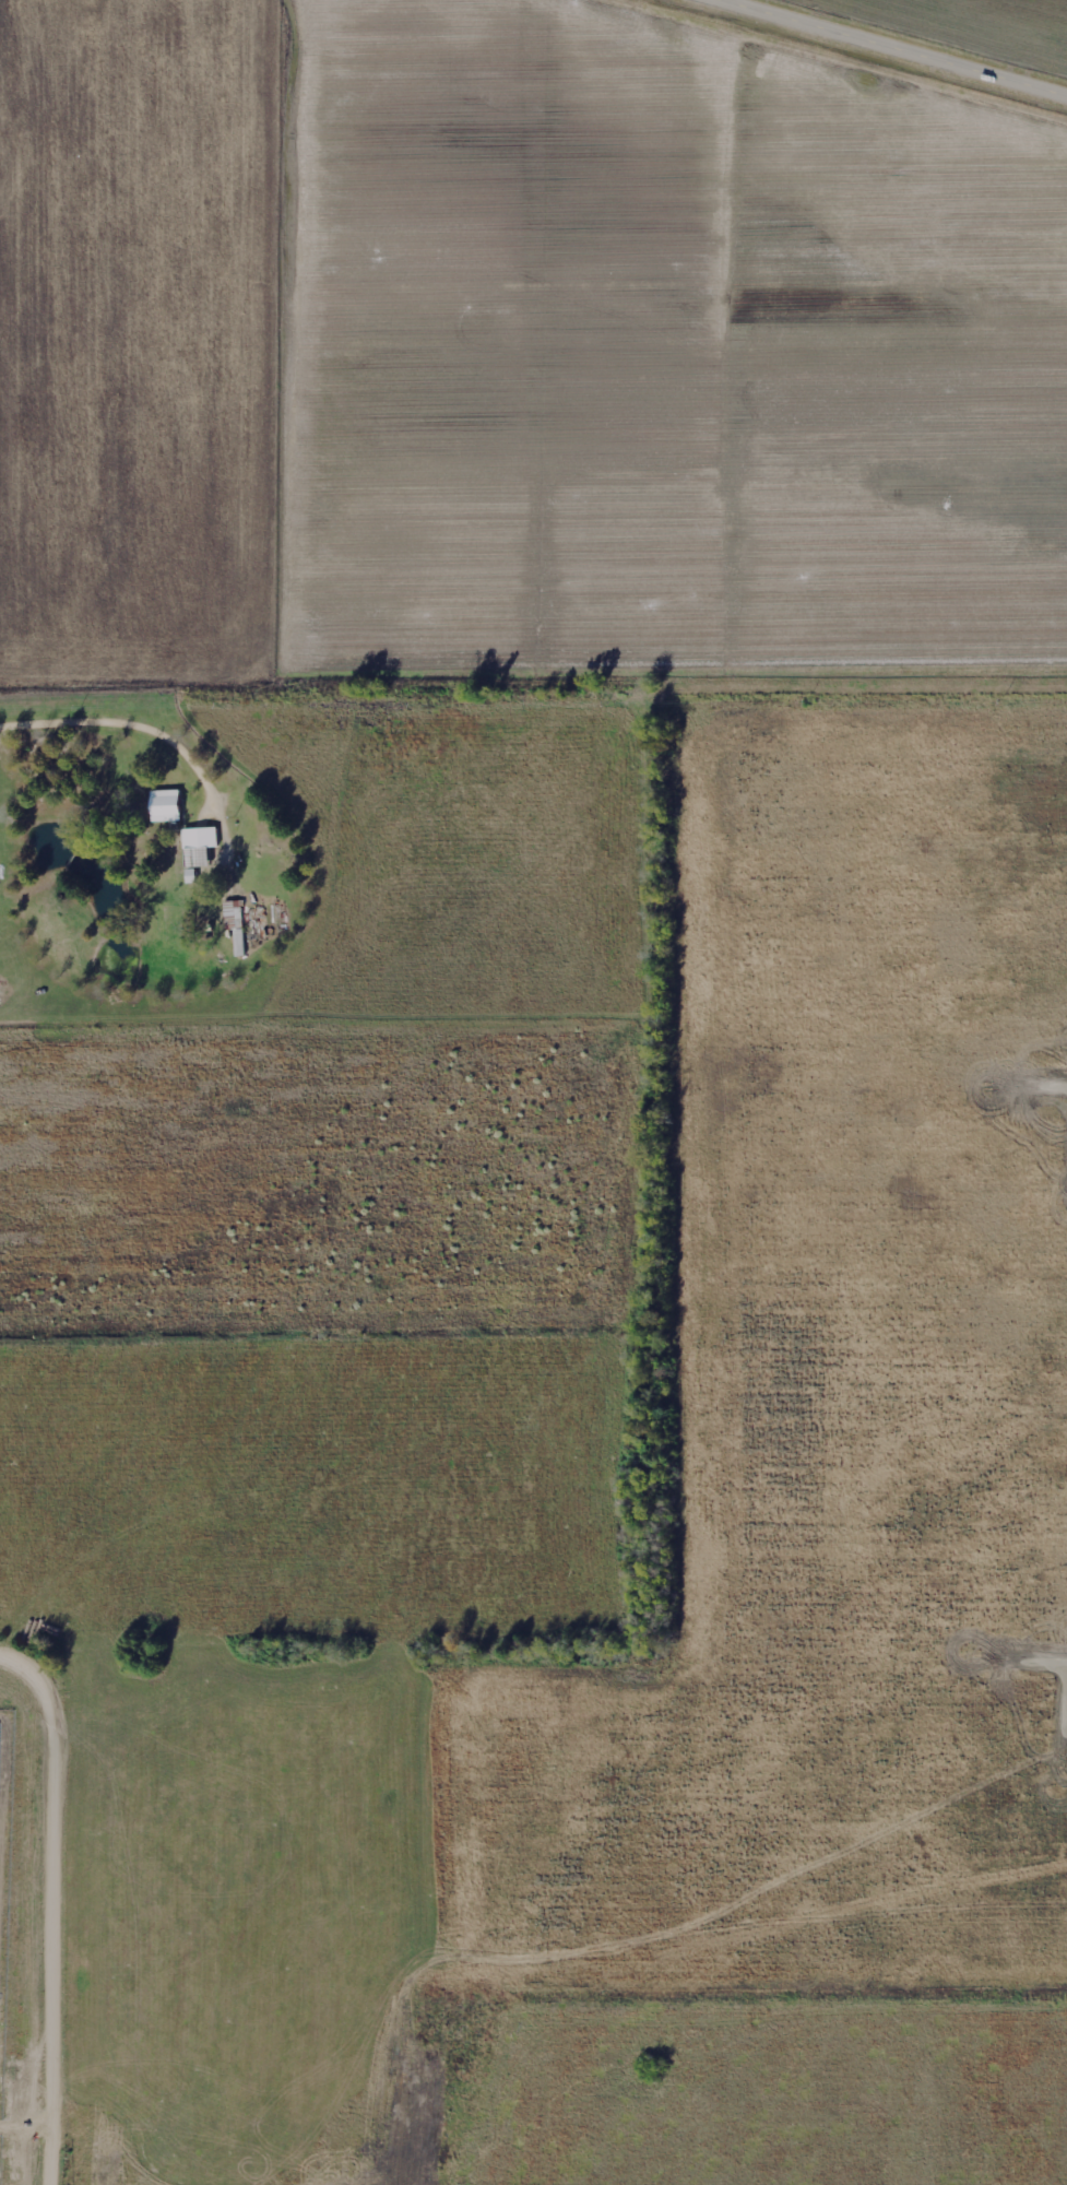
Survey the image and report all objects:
road: (890, 48)
building: (167, 807)
building: (203, 839)
road: (62, 1895)
solar farm: (3, 1901)

